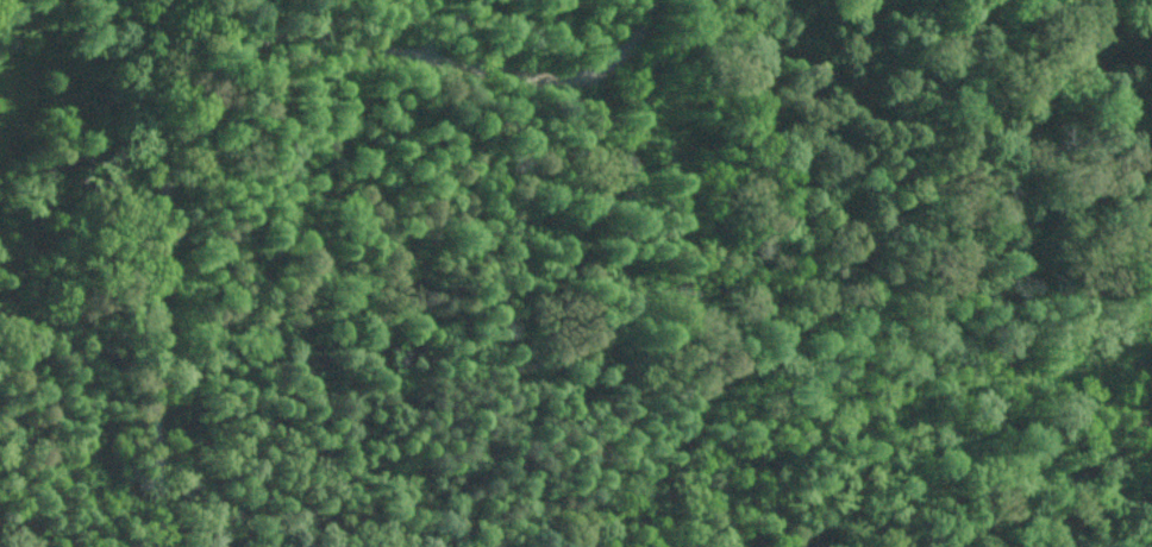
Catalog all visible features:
road: (231, 76)
road: (1028, 521)

